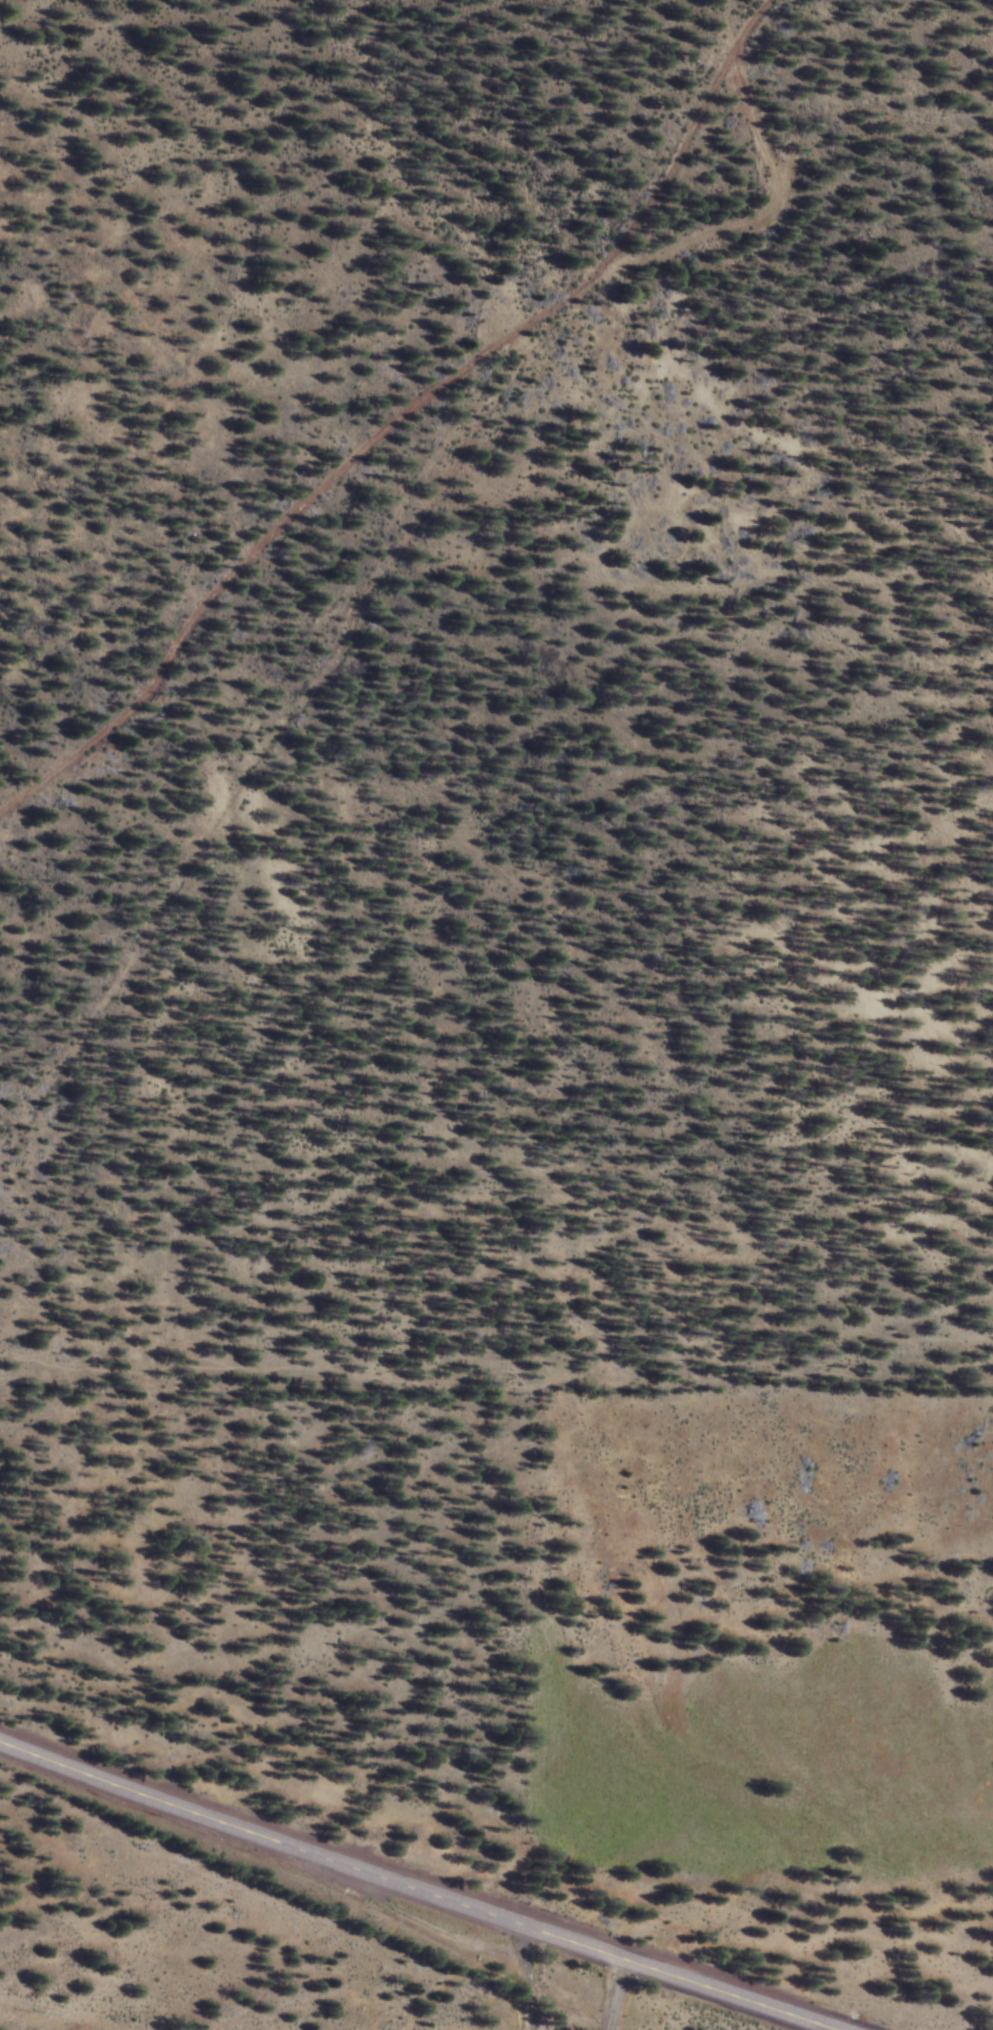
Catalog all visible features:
road: (421, 1888)
road: (530, 1976)
road: (616, 1992)

